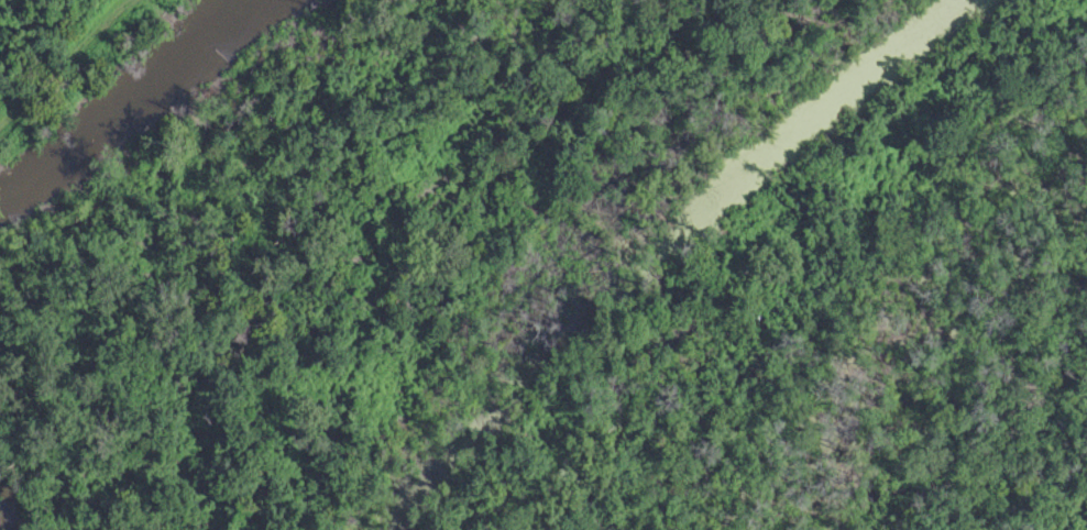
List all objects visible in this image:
road: (59, 60)

